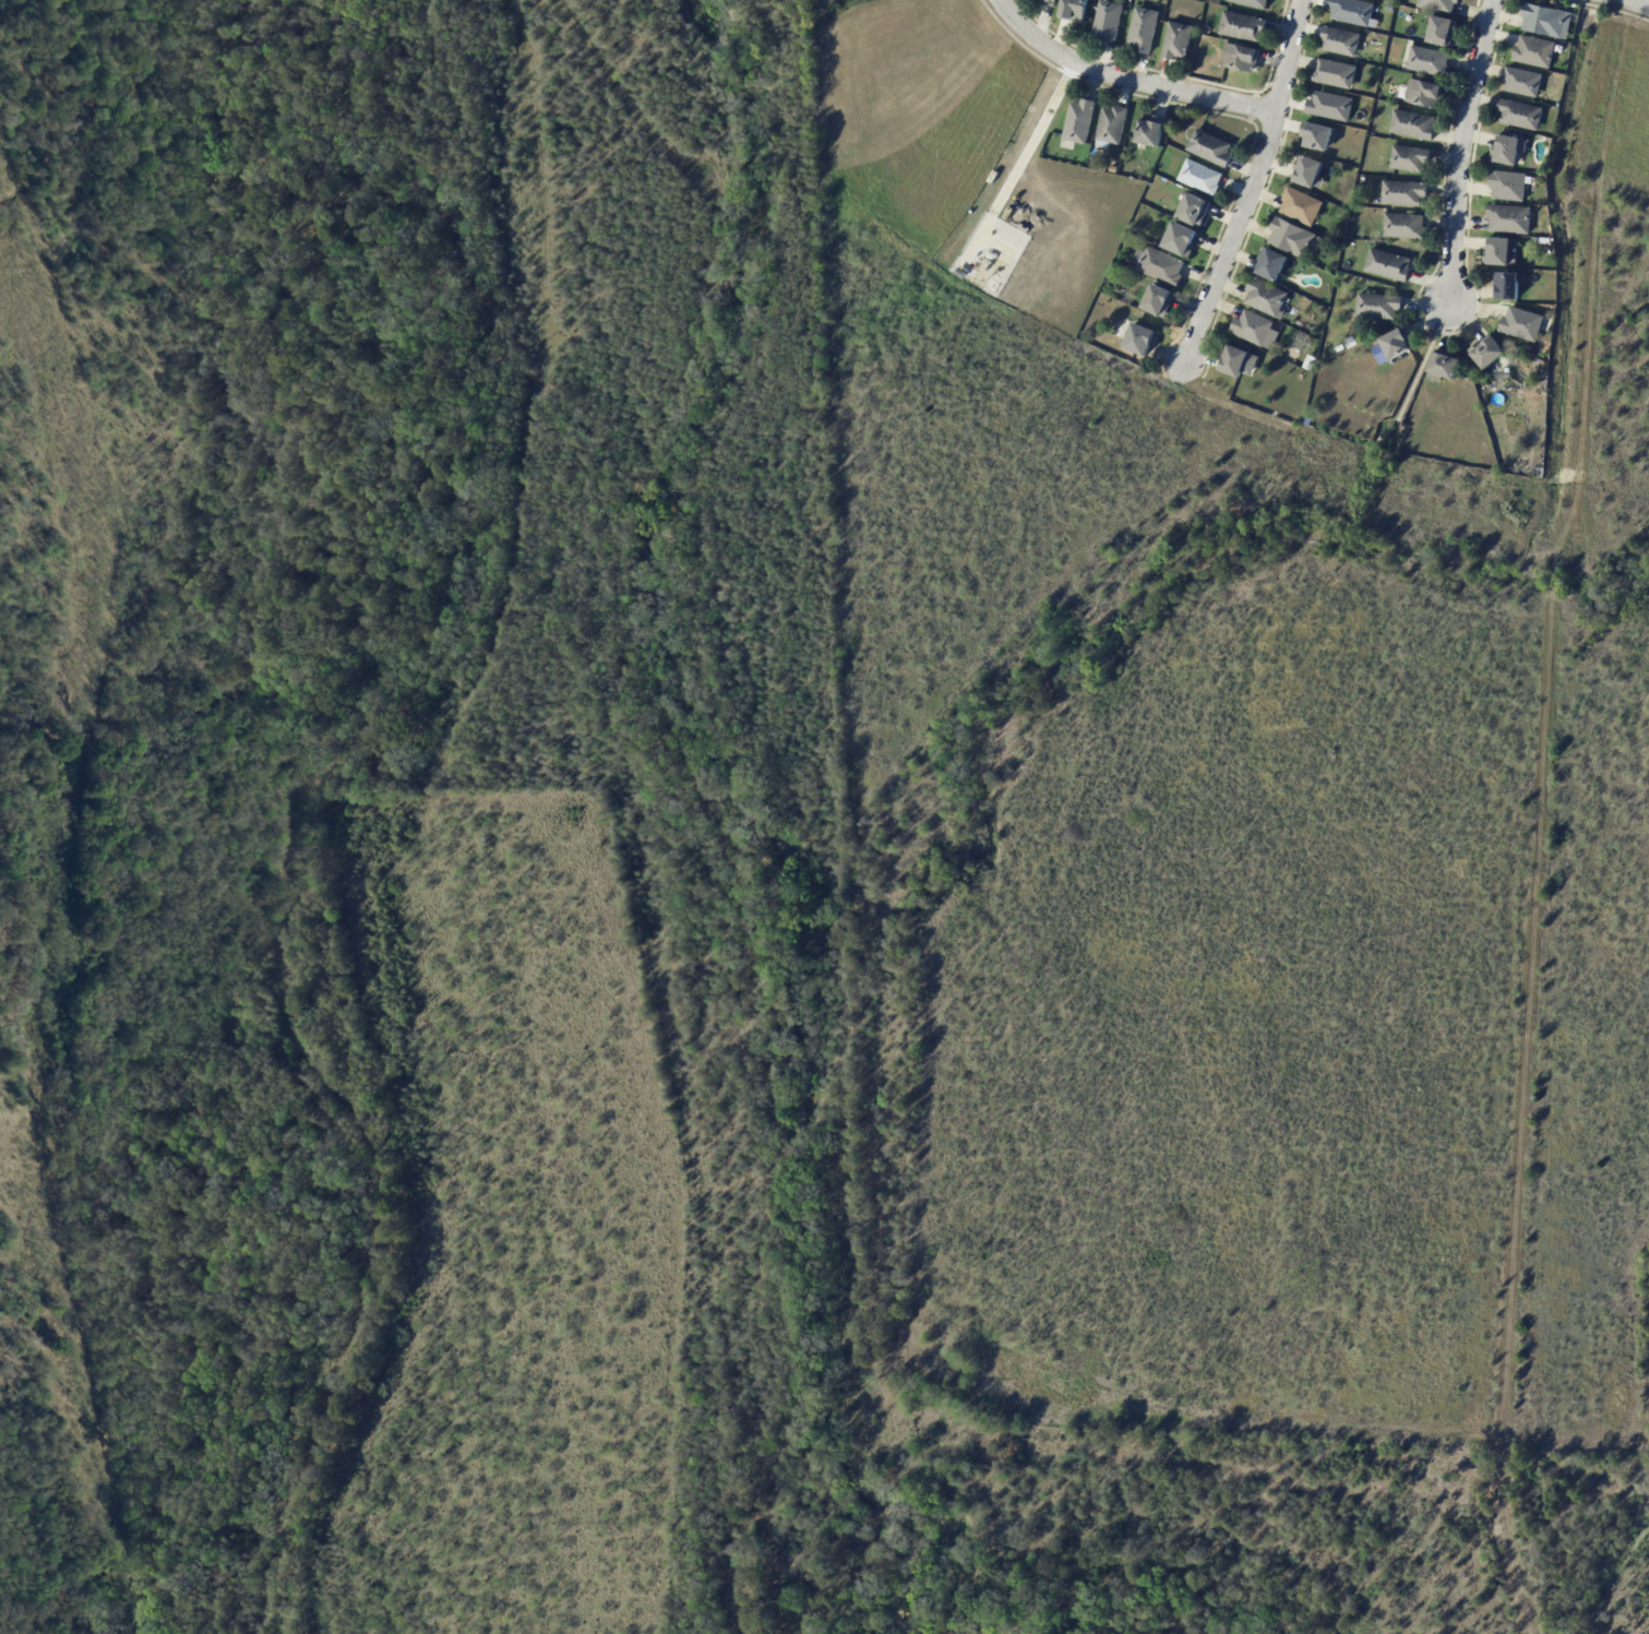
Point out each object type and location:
building: (1048, 1)
road: (1641, 1)
building: (1254, 2)
building: (1441, 4)
building: (1390, 7)
building: (1076, 10)
building: (1353, 11)
building: (1549, 20)
building: (1109, 21)
building: (1244, 25)
building: (1146, 28)
building: (1443, 28)
building: (1179, 40)
building: (1343, 40)
building: (1538, 50)
building: (1242, 57)
building: (1431, 60)
building: (1337, 73)
road: (1125, 77)
building: (1525, 81)
building: (1427, 92)
building: (1334, 105)
building: (1522, 114)
building: (1080, 120)
building: (1415, 124)
building: (1113, 126)
building: (1152, 133)
building: (1322, 135)
road: (1032, 138)
building: (1214, 147)
road: (1458, 148)
building: (1510, 148)
building: (1412, 157)
building: (1311, 171)
building: (1204, 176)
building: (1510, 184)
road: (1251, 186)
building: (1406, 193)
building: (1304, 206)
building: (1195, 211)
building: (1510, 218)
building: (1406, 226)
building: (1294, 237)
road: (976, 239)
building: (1182, 240)
road: (997, 243)
building: (1501, 251)
building: (1276, 263)
building: (1390, 264)
building: (1162, 265)
building: (959, 272)
building: (1510, 285)
building: (1269, 297)
building: (1159, 301)
building: (1381, 306)
building: (1525, 323)
building: (1257, 327)
building: (1143, 341)
building: (1352, 343)
building: (1395, 344)
building: (1491, 351)
building: (1520, 351)
building: (1241, 361)
building: (1446, 367)
building: (1310, 421)

